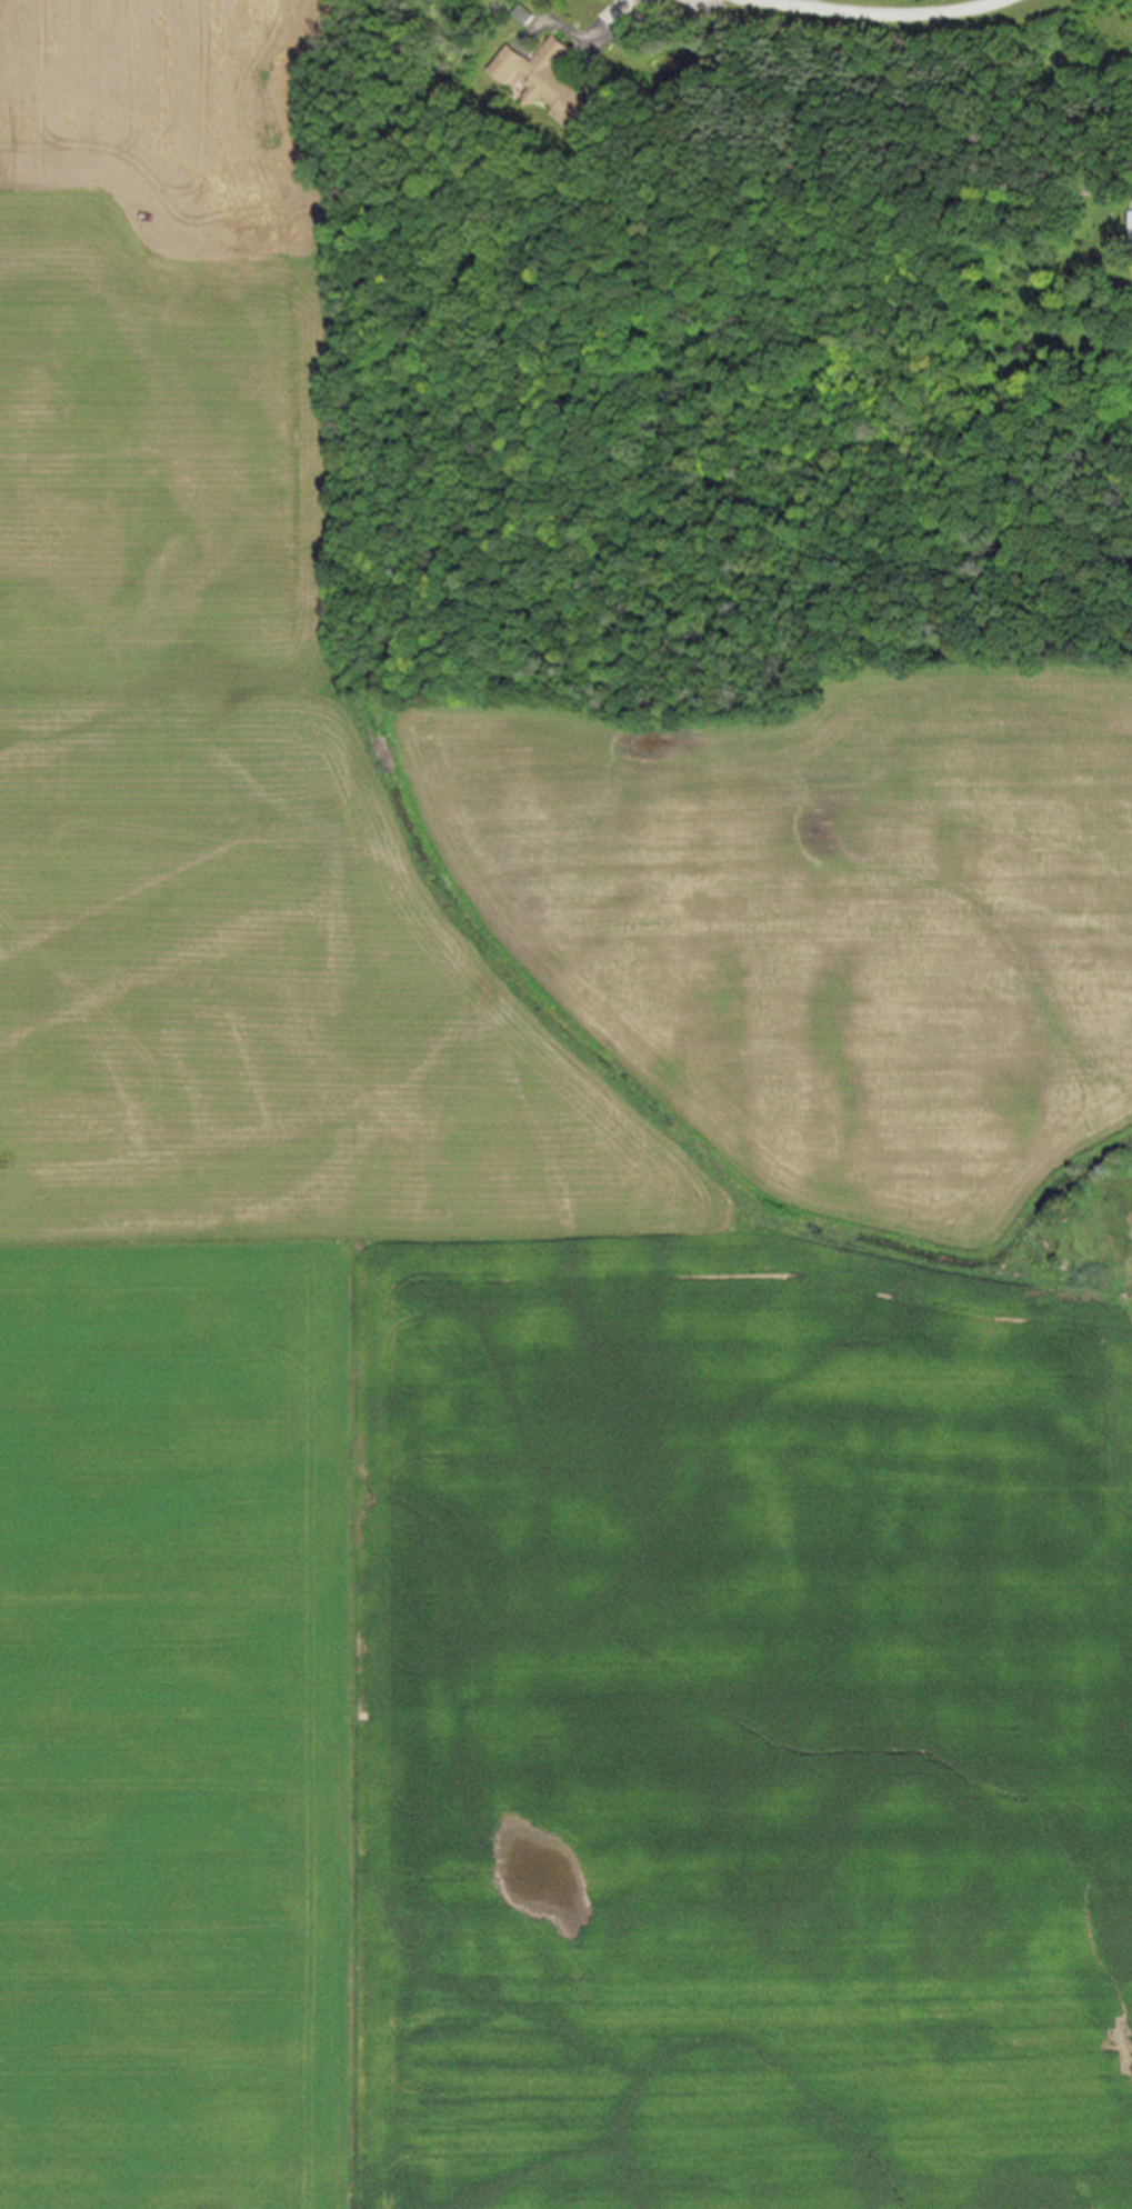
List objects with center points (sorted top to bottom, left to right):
road: (879, 16)
building: (539, 81)
building: (1130, 229)

